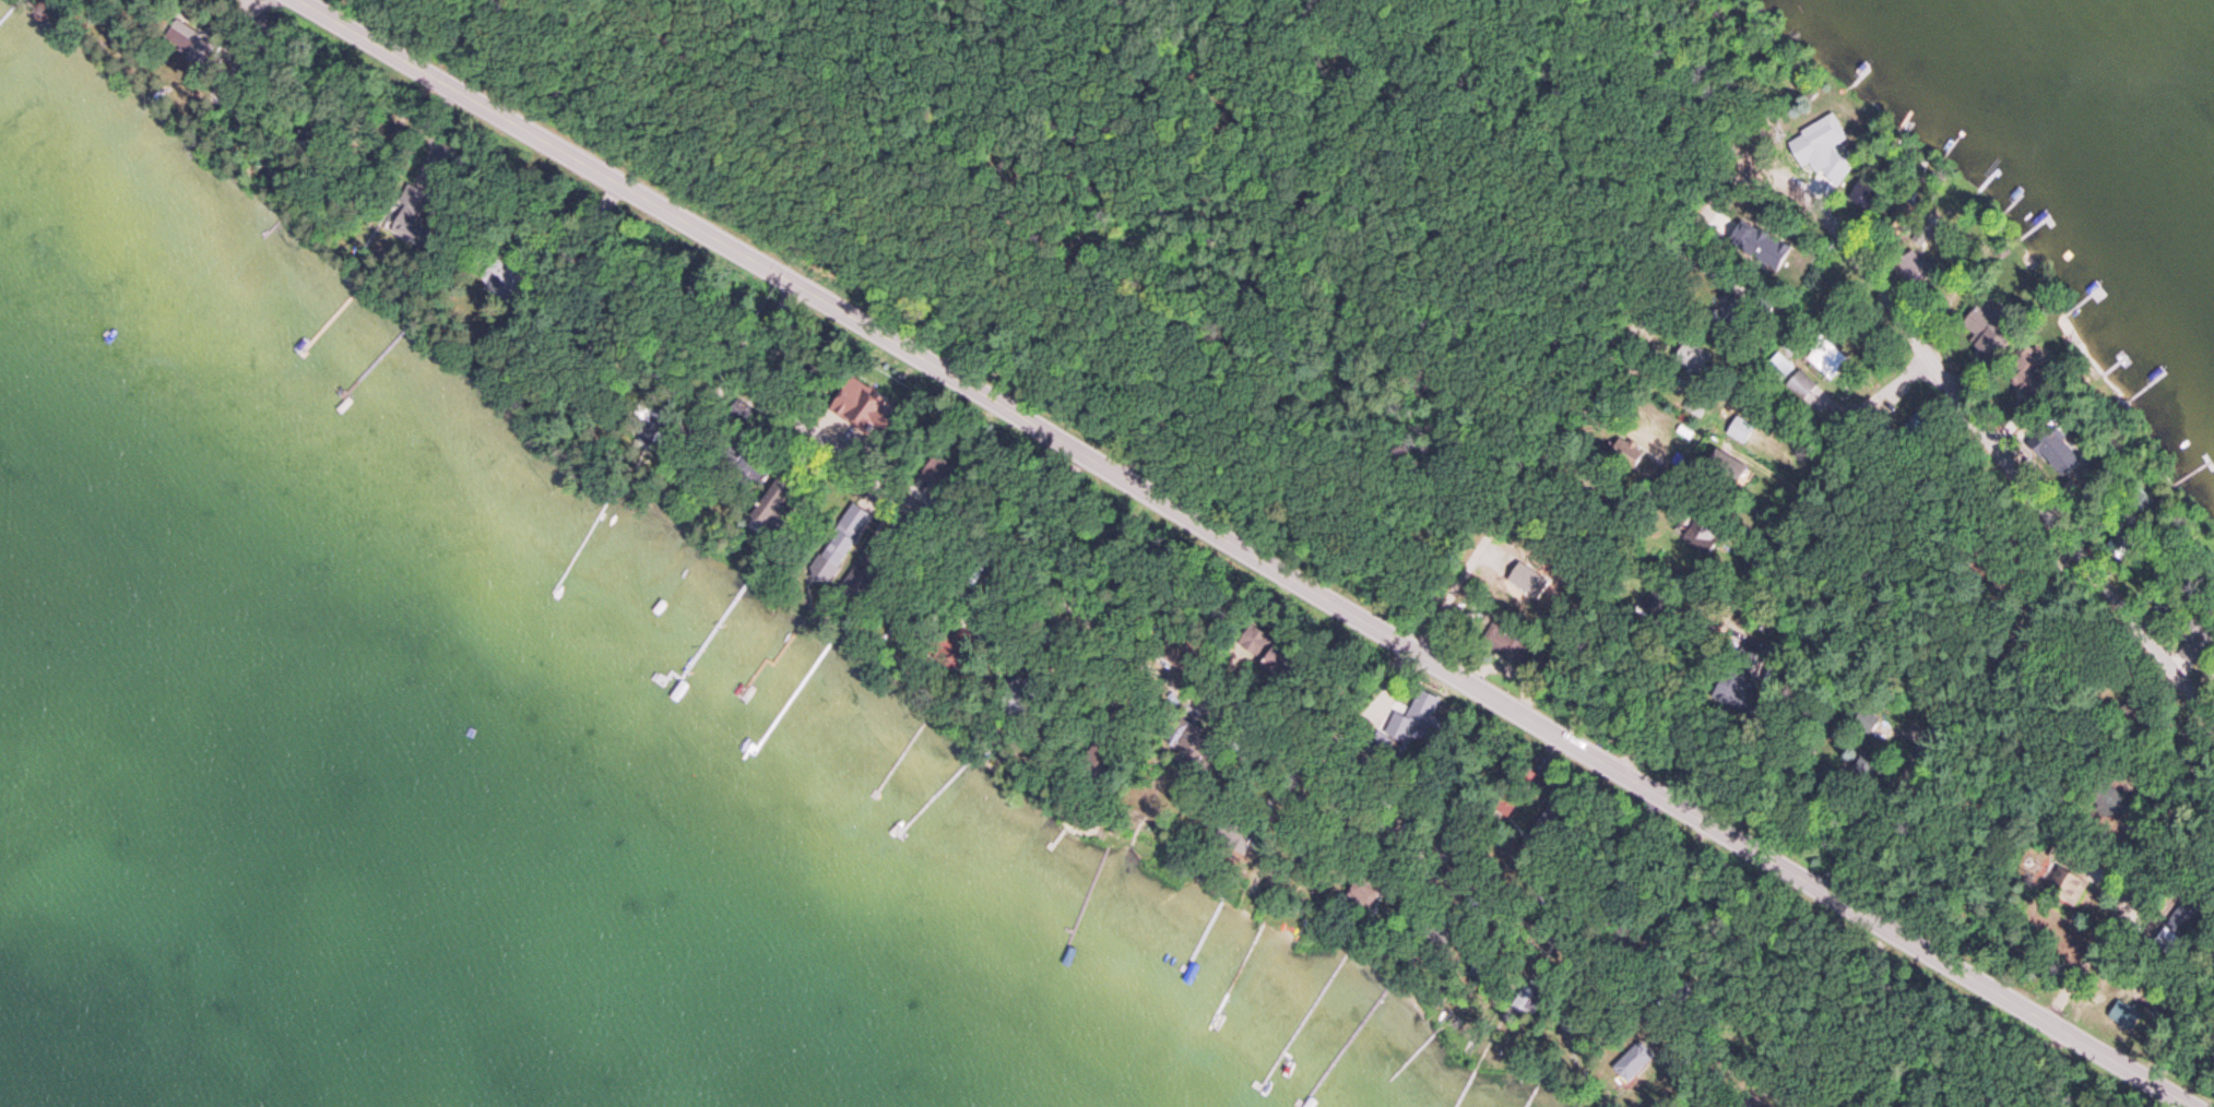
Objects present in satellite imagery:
road: (925, 138)
building: (1814, 143)
road: (1090, 195)
road: (1274, 260)
road: (1038, 348)
building: (1694, 358)
building: (1828, 360)
building: (1780, 368)
building: (1799, 388)
building: (852, 389)
building: (1695, 403)
building: (1740, 430)
road: (1989, 441)
parking lot: (1085, 447)
road: (1544, 461)
road: (1243, 555)
road: (1766, 557)
road: (1227, 717)
road: (1950, 723)
building: (1235, 840)
road: (2128, 897)
road: (2008, 1071)

